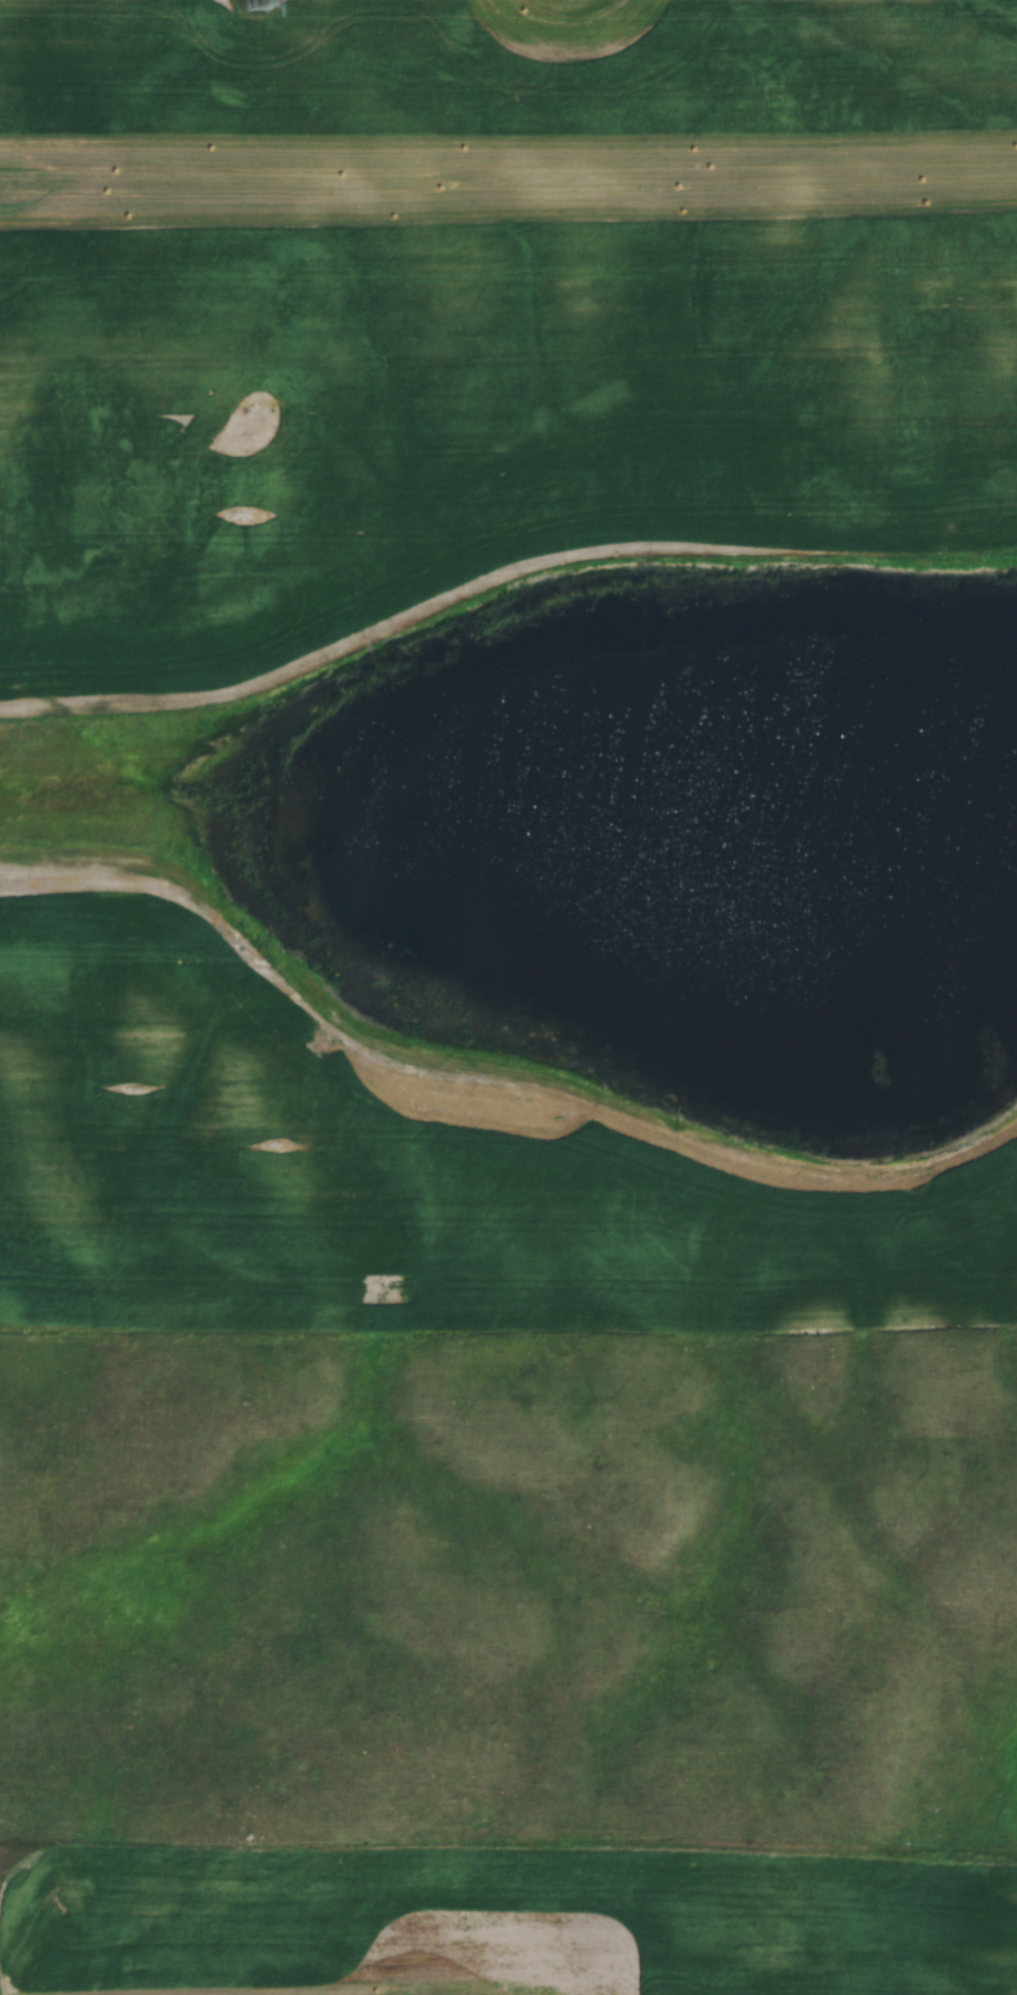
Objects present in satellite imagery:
building: (253, 5)
power tower: (258, 5)

